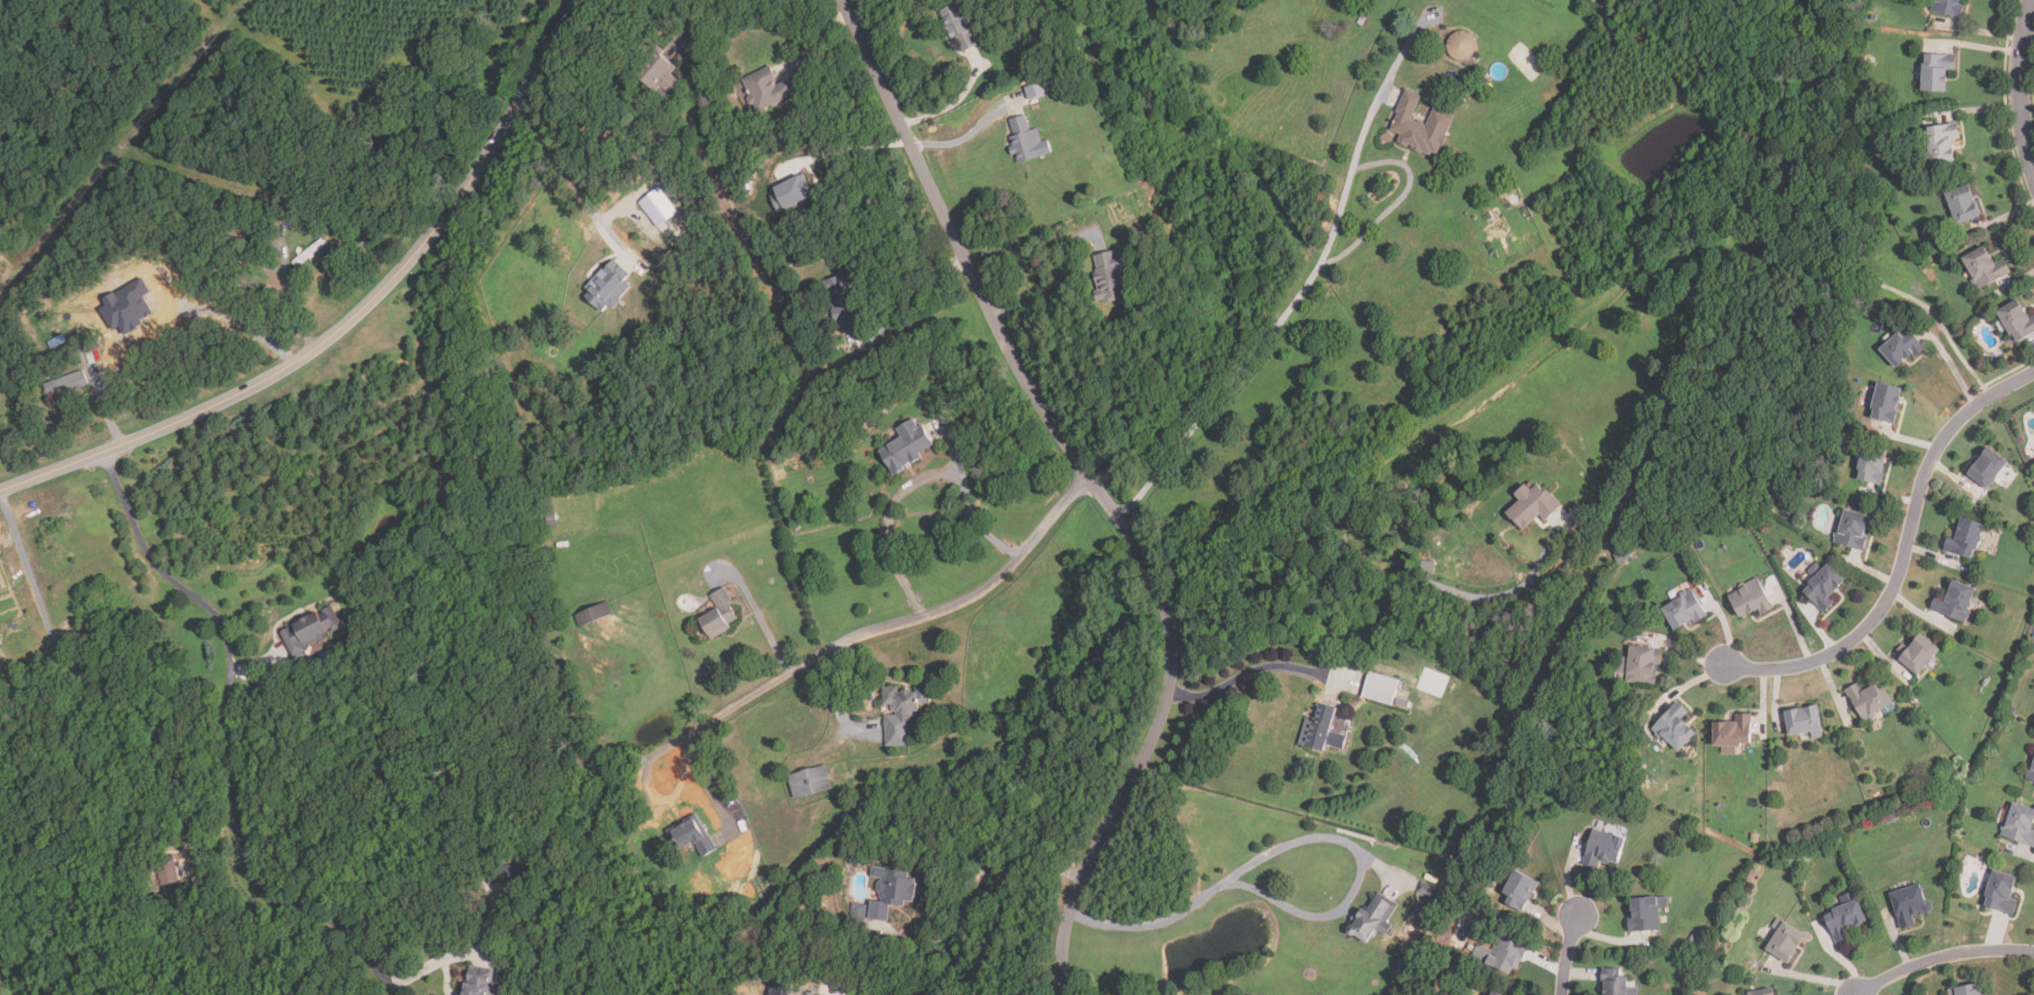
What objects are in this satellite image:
building: (1949, 7)
building: (1362, 20)
building: (958, 23)
road: (670, 24)
road: (812, 40)
building: (1462, 45)
building: (658, 71)
building: (1936, 71)
road: (2021, 84)
building: (766, 89)
building: (1037, 91)
road: (1376, 103)
road: (947, 107)
building: (1421, 125)
building: (1027, 141)
road: (956, 142)
building: (1942, 143)
road: (843, 149)
road: (569, 176)
building: (792, 192)
building: (1963, 204)
building: (658, 207)
river: (1222, 221)
building: (258, 223)
building: (309, 252)
building: (1984, 268)
building: (1109, 277)
road: (1312, 279)
road: (1055, 283)
building: (608, 287)
road: (909, 289)
building: (842, 302)
building: (126, 306)
road: (293, 308)
road: (353, 320)
building: (2017, 321)
building: (87, 345)
building: (1902, 347)
building: (832, 348)
building: (943, 381)
building: (66, 385)
road: (103, 404)
building: (1885, 404)
building: (906, 447)
building: (1872, 462)
building: (1987, 468)
road: (911, 484)
road: (1096, 487)
building: (1532, 506)
building: (552, 520)
building: (1853, 530)
building: (1965, 539)
road: (1904, 557)
road: (1376, 578)
building: (1824, 586)
building: (1750, 599)
building: (1955, 601)
building: (1684, 611)
building: (719, 614)
road: (758, 614)
building: (593, 615)
building: (311, 632)
building: (1918, 653)
road: (820, 654)
building: (1643, 665)
road: (1247, 670)
road: (93, 679)
building: (1380, 688)
building: (871, 696)
building: (1870, 699)
road: (838, 700)
building: (1403, 703)
building: (903, 713)
building: (1805, 722)
building: (1674, 728)
building: (1319, 729)
building: (1732, 734)
building: (2032, 773)
road: (235, 779)
building: (810, 783)
road: (710, 797)
building: (2020, 824)
building: (140, 827)
building: (694, 837)
road: (1298, 840)
building: (1603, 848)
building: (210, 868)
building: (167, 870)
building: (514, 873)
building: (1432, 878)
building: (200, 881)
building: (1427, 889)
building: (891, 890)
building: (1519, 892)
building: (2001, 893)
building: (450, 897)
road: (975, 901)
building: (1909, 905)
building: (861, 911)
building: (1646, 913)
building: (1373, 919)
building: (1845, 920)
building: (1785, 942)
building: (1502, 954)
road: (1569, 955)
road: (1941, 959)
building: (480, 981)
building: (1615, 982)
building: (1966, 990)
building: (1762, 992)
building: (1493, 994)

